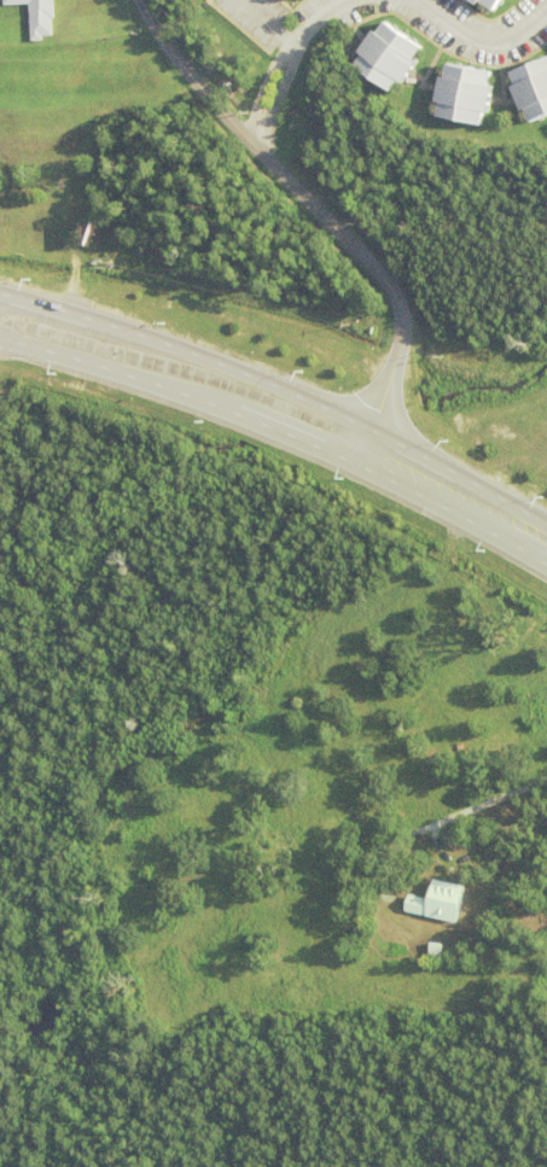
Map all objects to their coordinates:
building: (487, 5)
building: (37, 17)
road: (481, 35)
road: (280, 57)
building: (389, 60)
building: (533, 93)
building: (465, 98)
road: (310, 211)
road: (281, 412)
road: (359, 867)
building: (441, 906)
building: (7, 1098)

